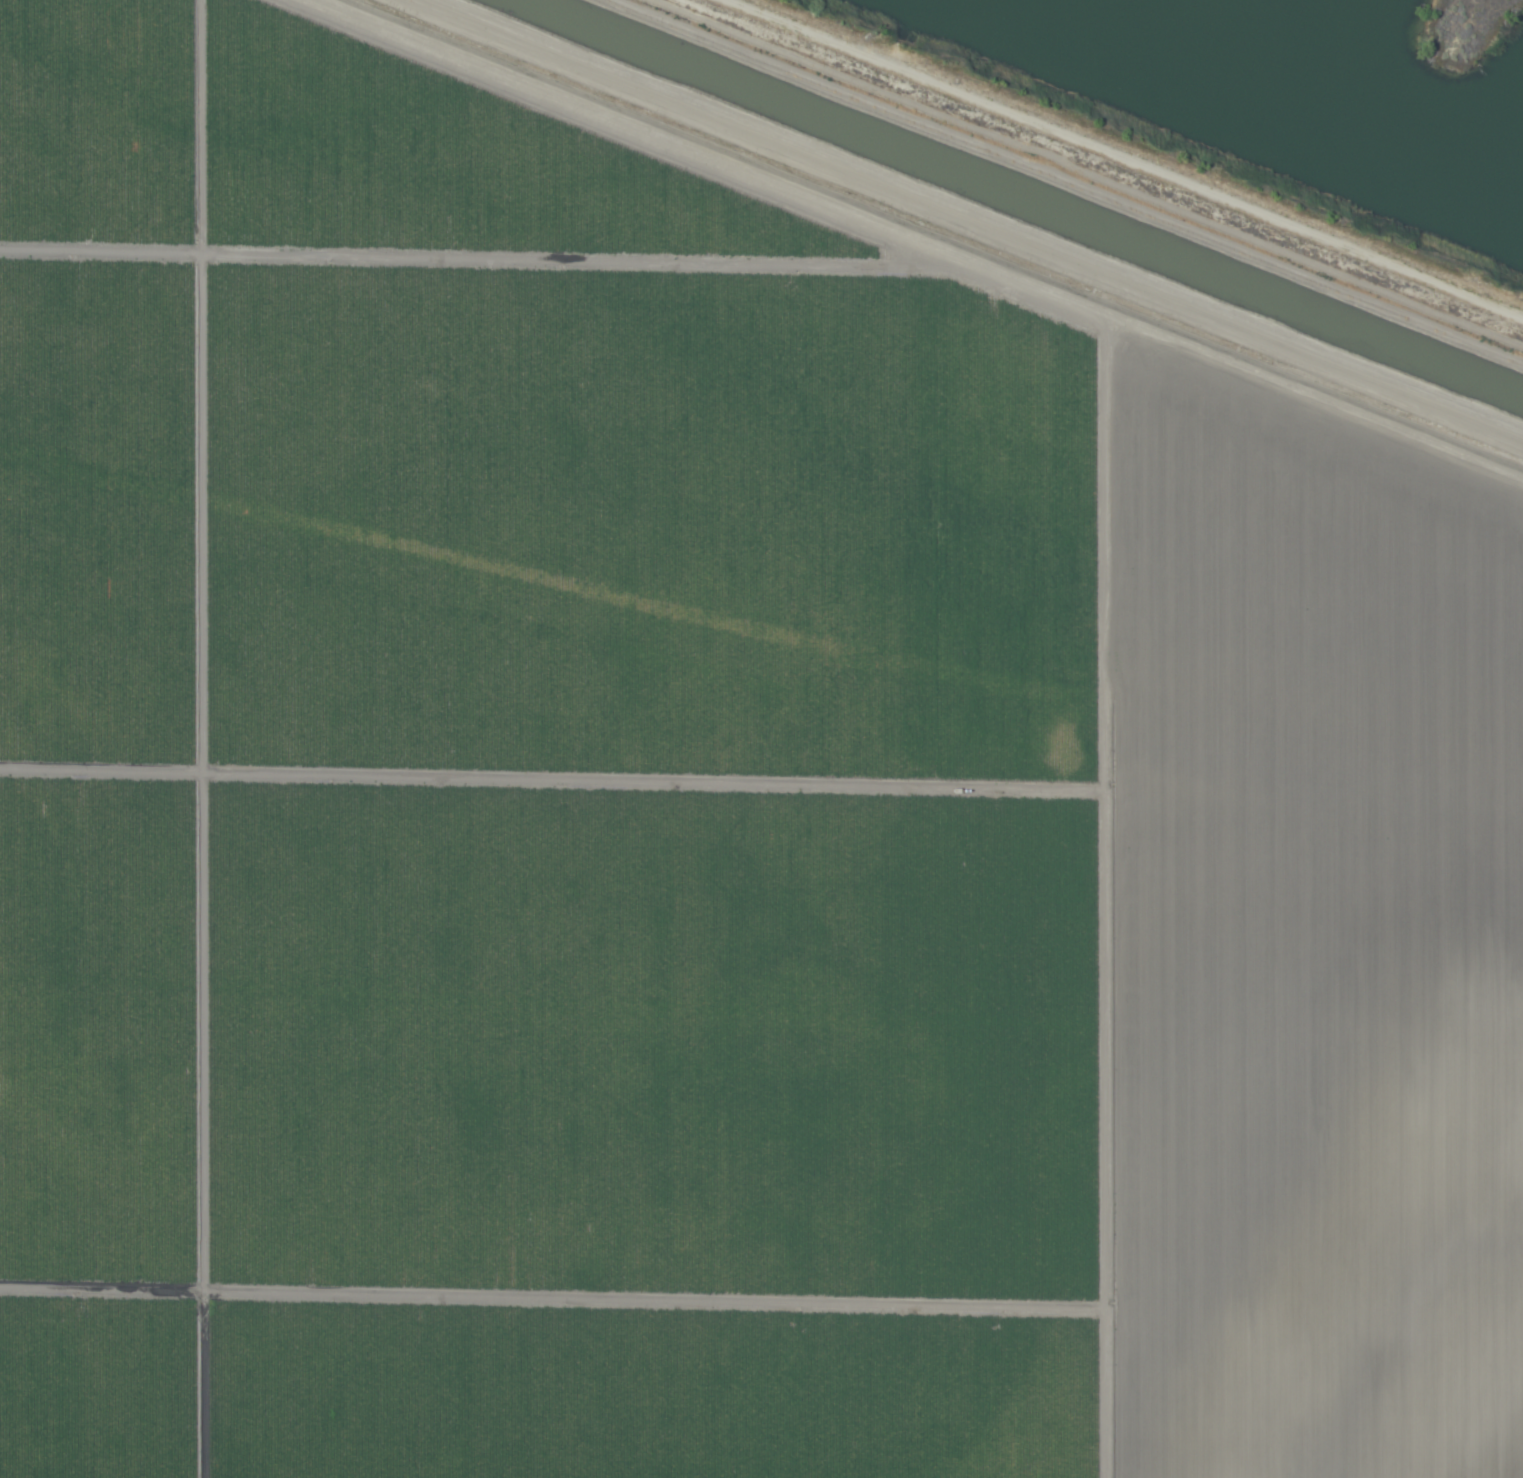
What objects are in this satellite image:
building: (1196, 20)
crop: (719, 799)

